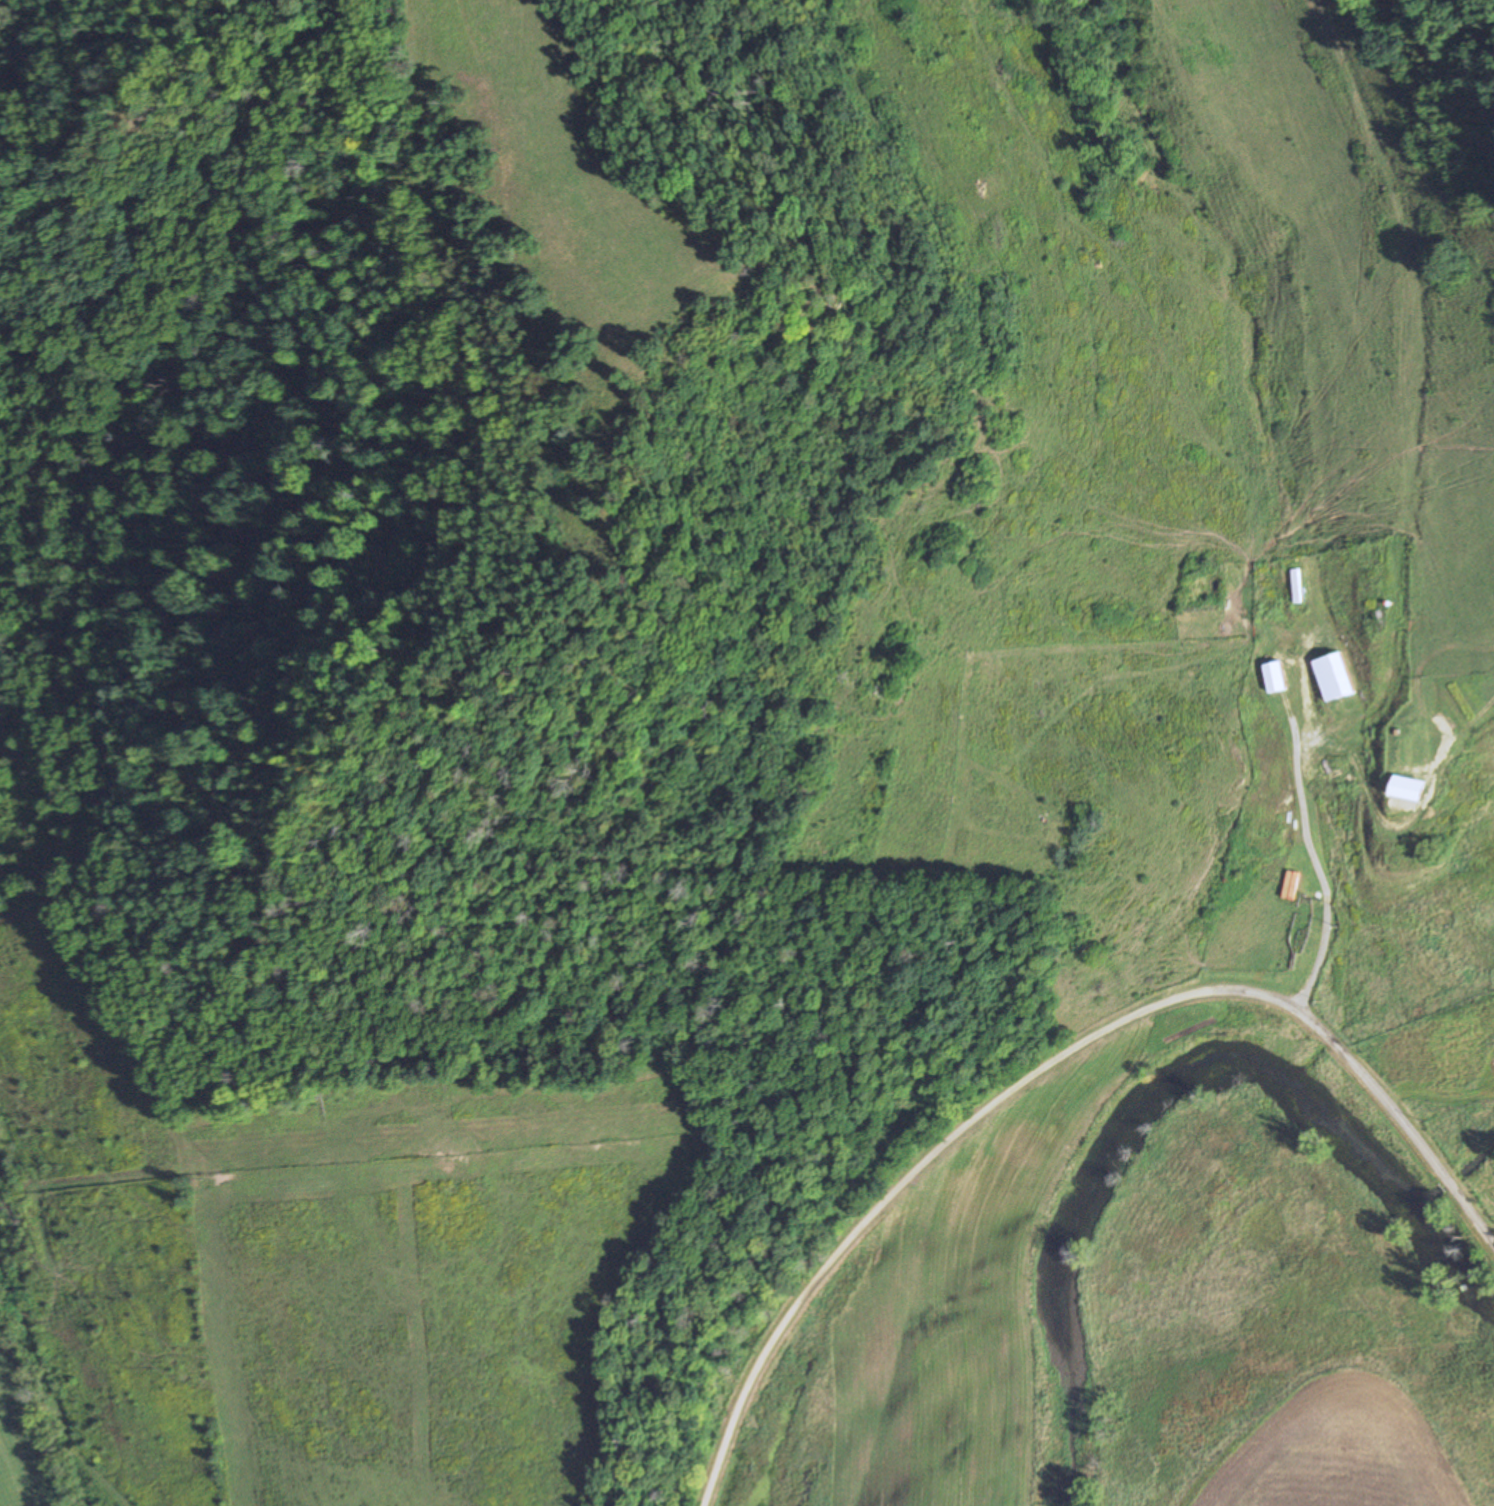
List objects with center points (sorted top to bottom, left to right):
building: (1338, 676)
building: (1277, 677)
road: (1052, 1070)

